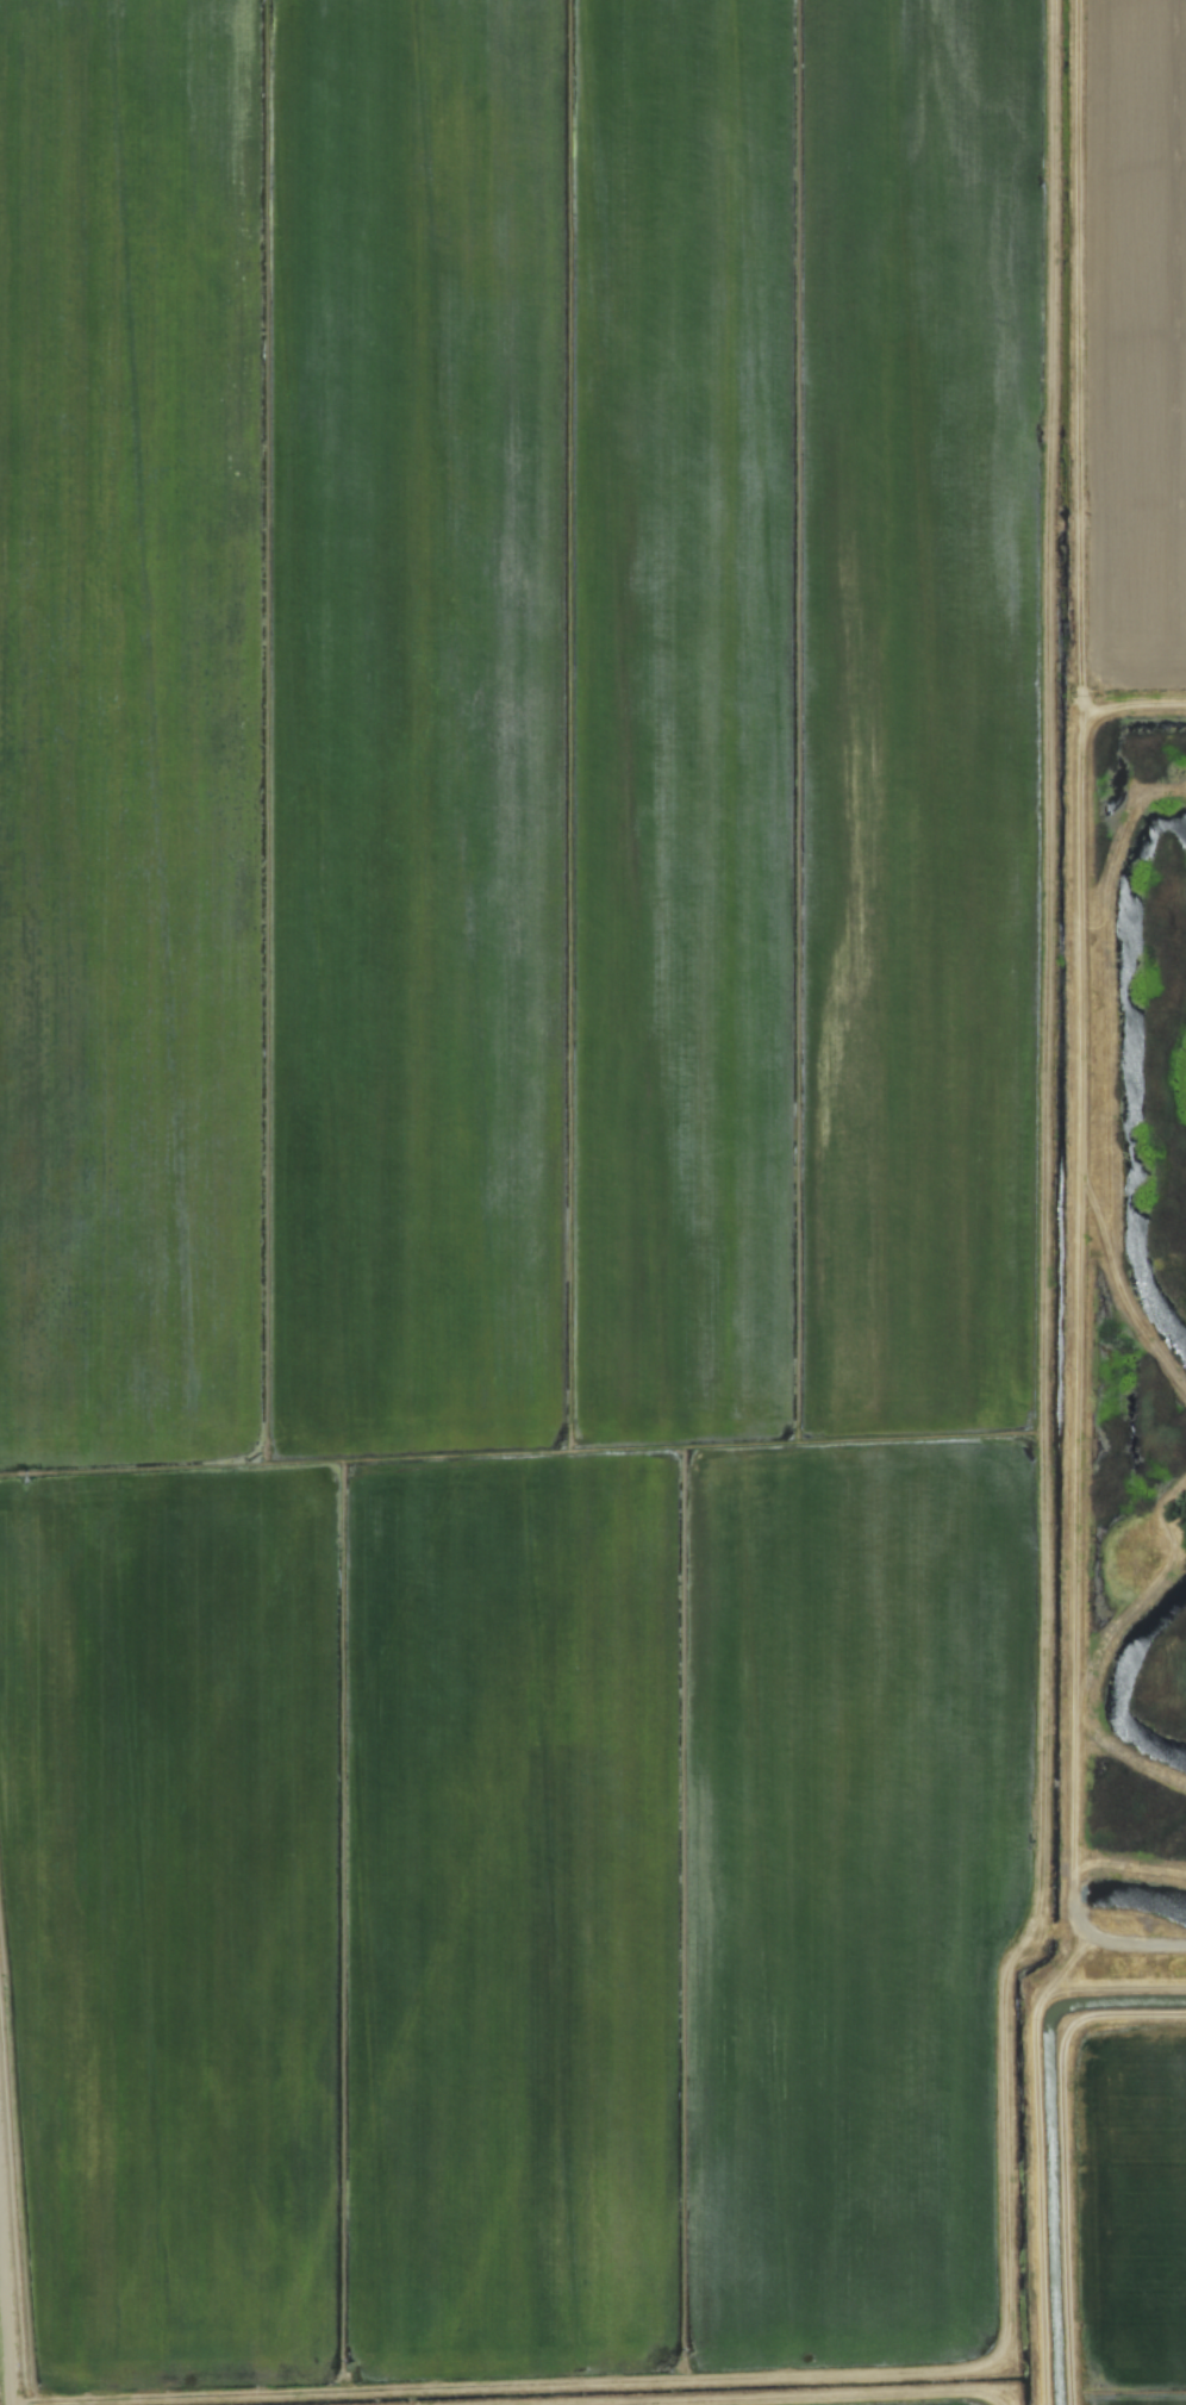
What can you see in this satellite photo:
airport runway: (1, 2375)

